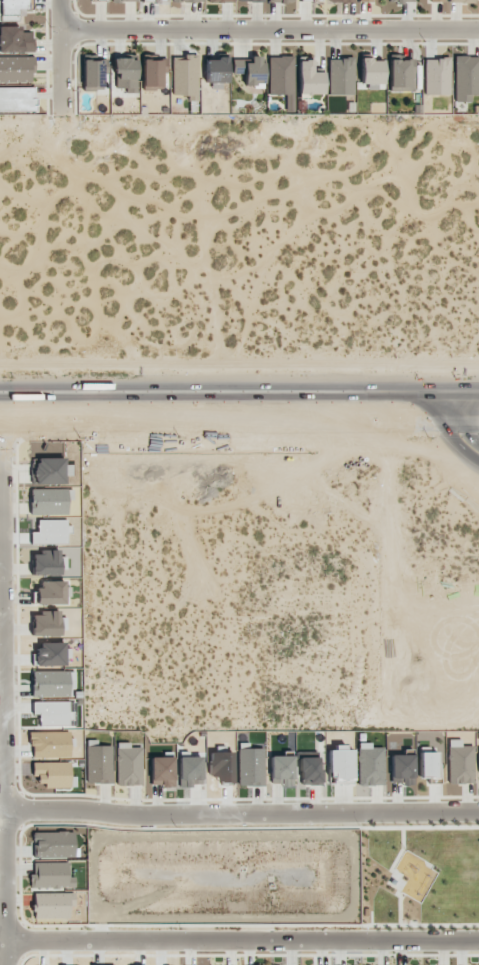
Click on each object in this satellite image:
building: (100, 0)
building: (123, 0)
building: (154, 0)
building: (251, 0)
building: (311, 0)
building: (369, 0)
building: (437, 0)
building: (187, 1)
building: (220, 1)
building: (280, 1)
building: (341, 1)
building: (401, 1)
building: (461, 1)
building: (12, 9)
road: (269, 30)
building: (15, 40)
road: (59, 53)
building: (16, 69)
building: (216, 70)
building: (250, 71)
building: (371, 71)
building: (126, 73)
building: (153, 73)
building: (93, 75)
building: (401, 75)
building: (185, 76)
building: (340, 76)
building: (436, 76)
building: (309, 78)
building: (466, 78)
building: (281, 79)
building: (17, 99)
road: (239, 394)
road: (239, 426)
building: (49, 470)
building: (48, 501)
building: (45, 563)
building: (49, 593)
building: (47, 624)
building: (49, 654)
building: (50, 683)
building: (459, 762)
building: (98, 764)
building: (428, 764)
building: (128, 765)
building: (370, 765)
building: (250, 767)
building: (402, 769)
building: (281, 770)
building: (310, 770)
building: (478, 770)
building: (162, 771)
building: (52, 774)
road: (239, 814)
building: (53, 844)
building: (51, 876)
building: (52, 905)
road: (0, 919)
road: (239, 936)

